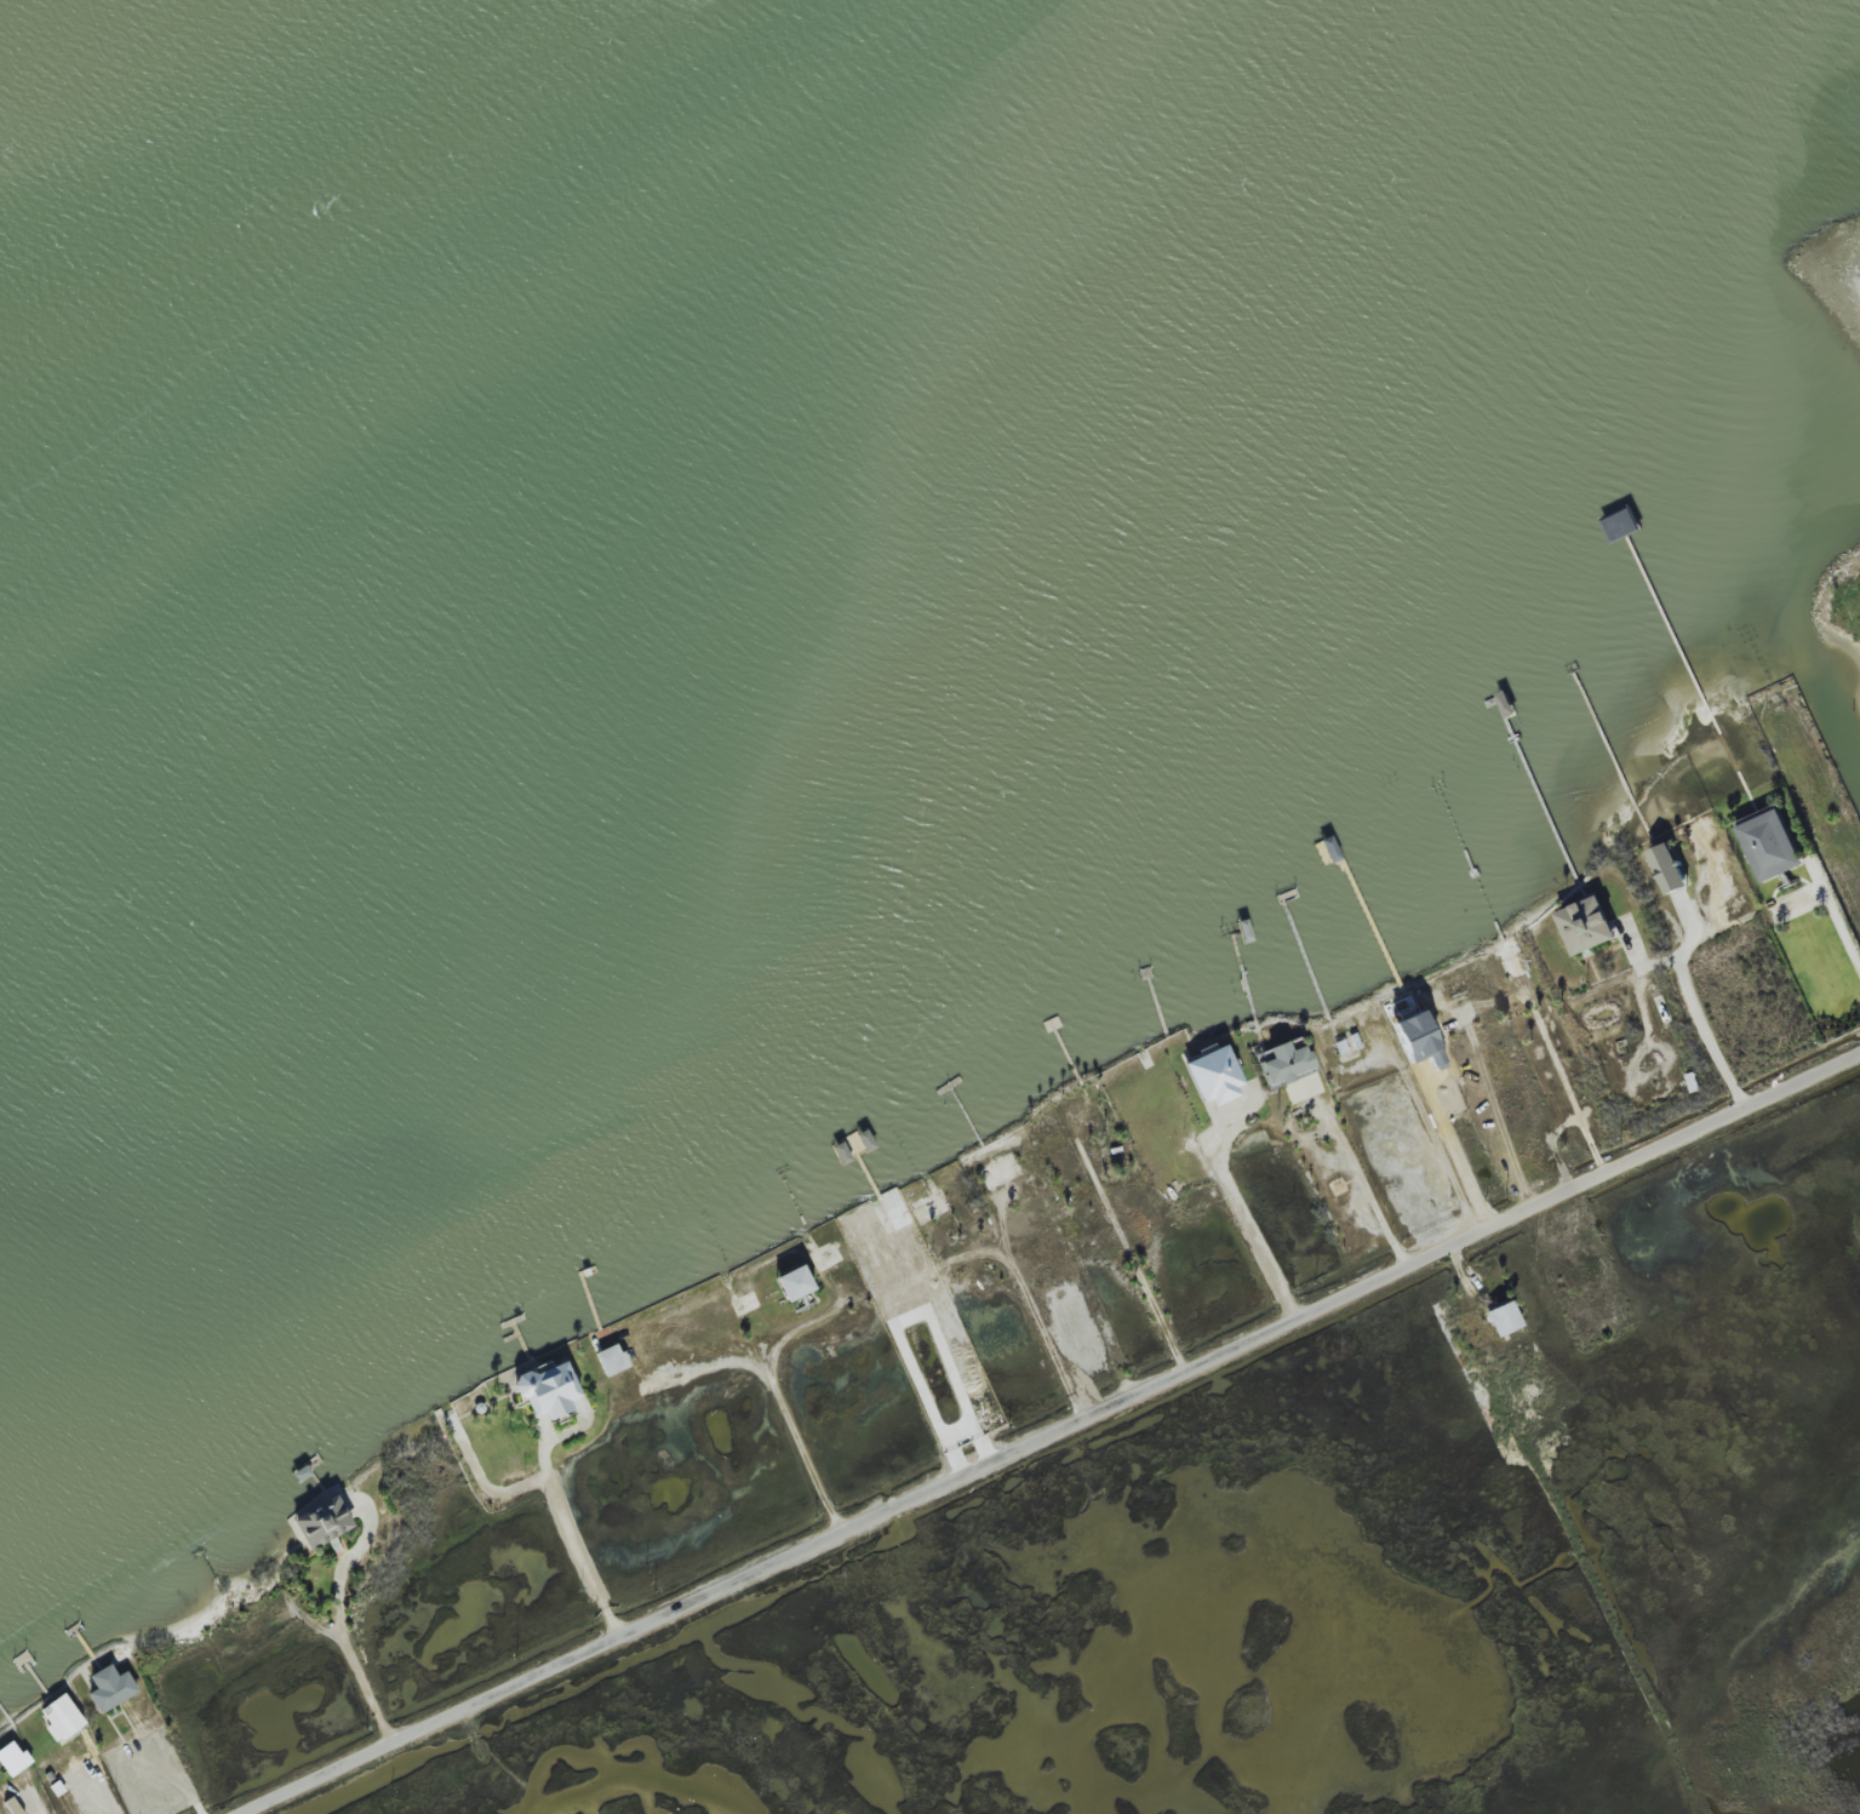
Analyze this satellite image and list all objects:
building: (1772, 845)
building: (1670, 869)
road: (1839, 923)
building: (1587, 926)
road: (1696, 1001)
building: (1418, 1040)
building: (1286, 1064)
building: (1214, 1076)
building: (1304, 1087)
road: (1363, 1188)
road: (1246, 1219)
building: (795, 1283)
building: (1504, 1318)
building: (612, 1360)
building: (549, 1391)
road: (1051, 1431)
road: (572, 1539)
road: (353, 1637)
building: (111, 1688)
building: (62, 1718)
building: (13, 1758)

